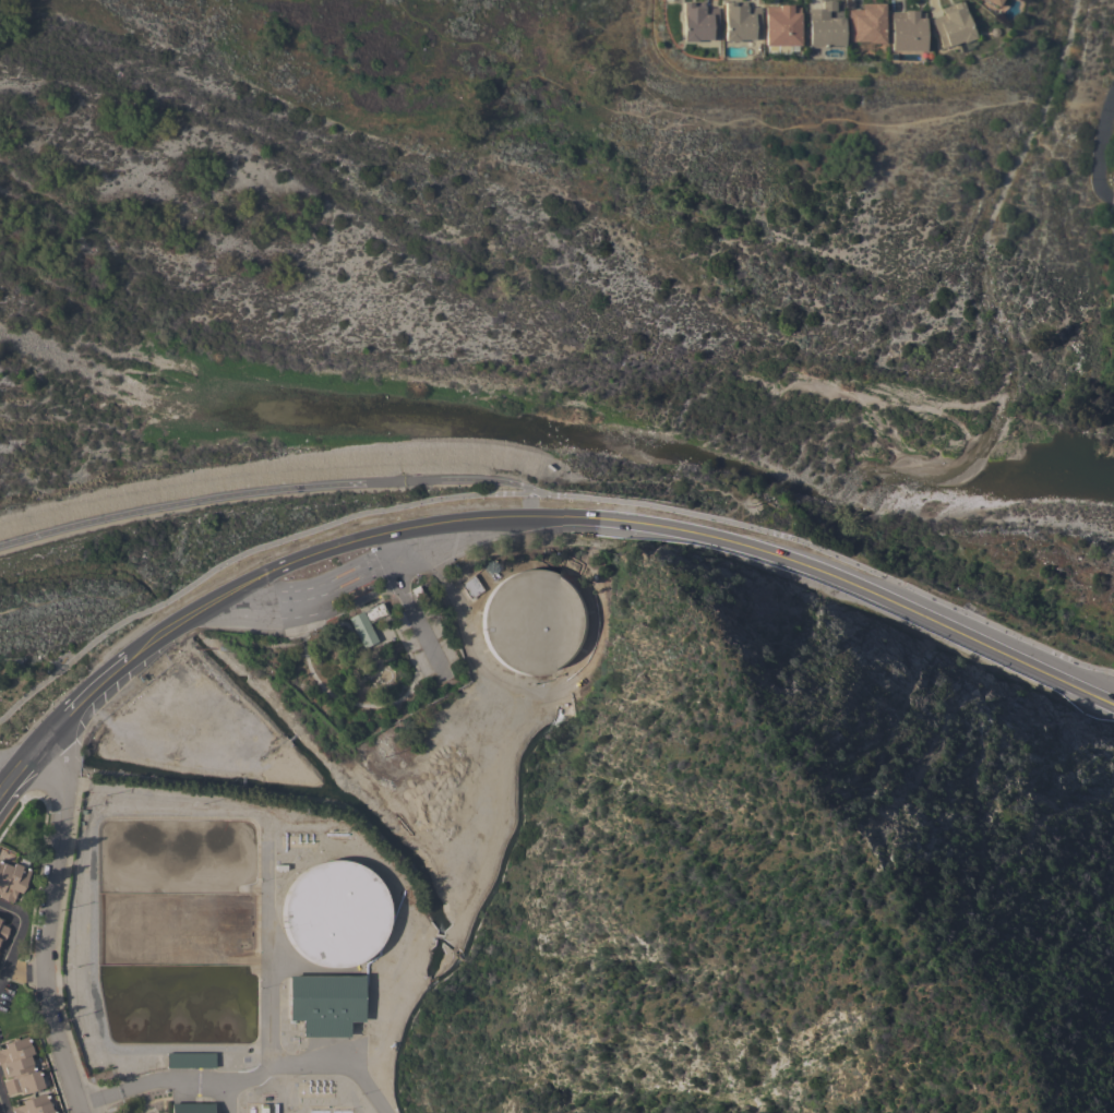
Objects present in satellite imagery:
building: (995, 2)
building: (699, 22)
building: (741, 22)
building: (866, 24)
building: (782, 25)
building: (954, 25)
building: (825, 26)
building: (907, 31)
road: (1101, 152)
river: (152, 406)
river: (554, 430)
river: (236, 441)
road: (276, 486)
road: (622, 518)
road: (254, 547)
road: (842, 559)
building: (470, 586)
road: (407, 602)
storage tank: (532, 621)
building: (364, 624)
parking lot: (440, 638)
parking lot: (414, 653)
road: (92, 686)
road: (27, 744)
road: (29, 761)
road: (11, 765)
building: (11, 879)
water tower: (334, 912)
building: (332, 913)
road: (48, 922)
road: (12, 931)
building: (2, 932)
road: (264, 955)
road: (21, 972)
building: (324, 1002)
building: (188, 1060)
building: (19, 1066)
road: (209, 1079)
road: (225, 1097)
building: (33, 1104)
building: (191, 1108)
road: (0, 1112)

